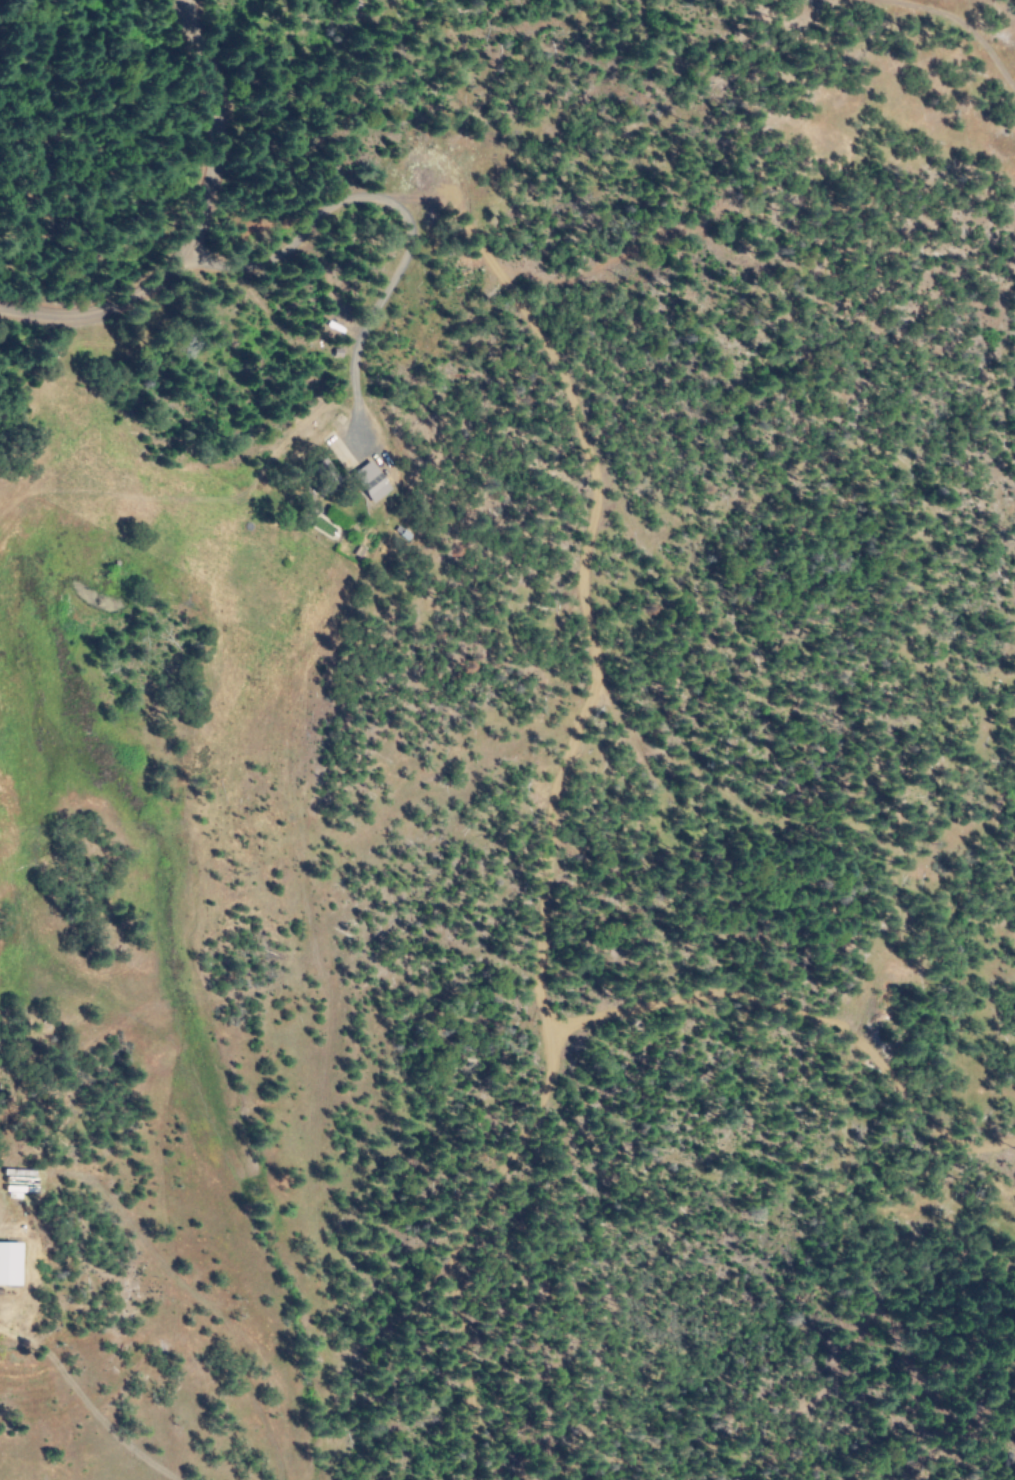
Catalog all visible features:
road: (98, 147)
building: (322, 473)
building: (367, 481)
building: (8, 1263)

